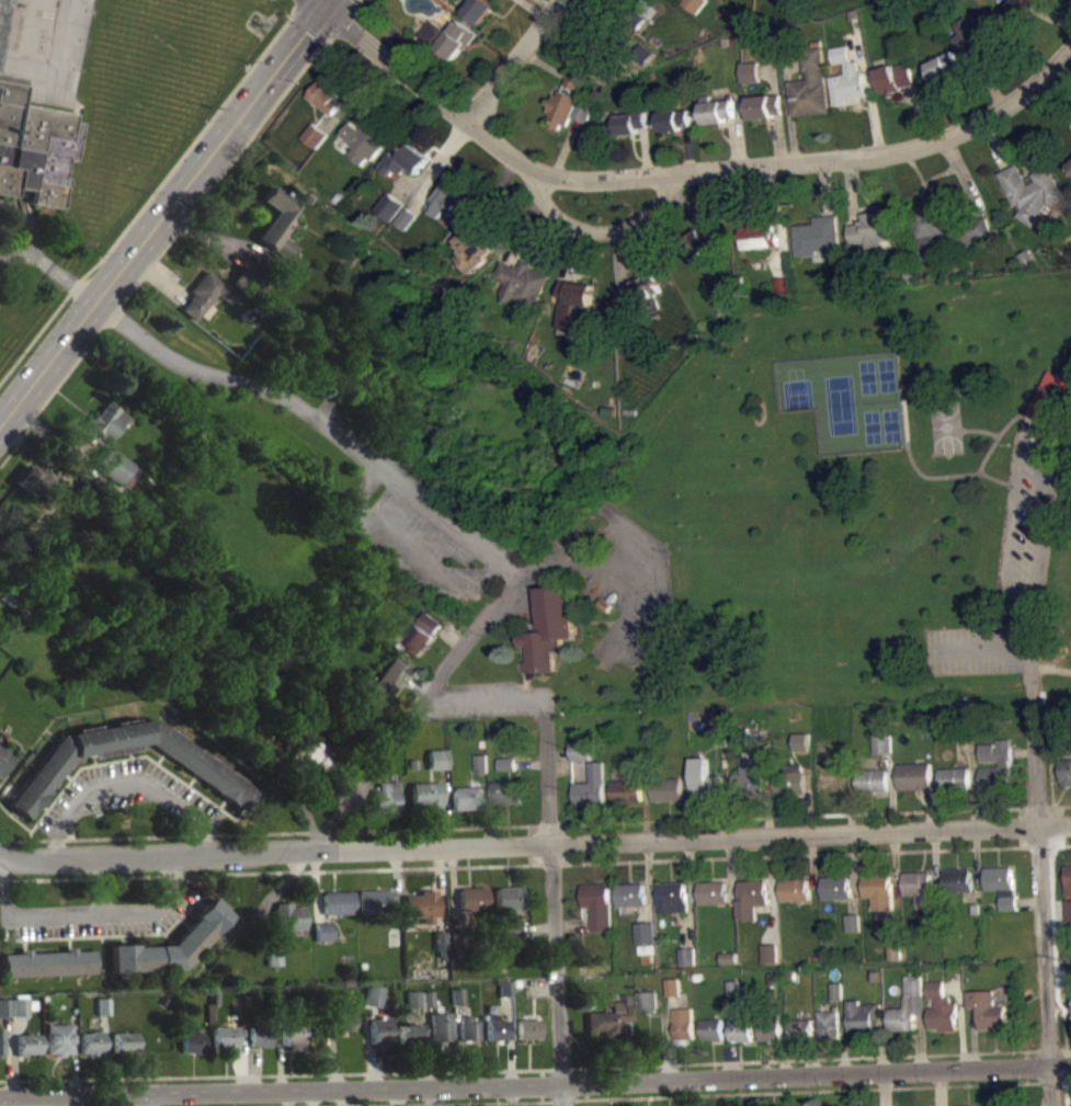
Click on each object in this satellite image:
road: (351, 2)
building: (0, 4)
road: (318, 4)
road: (324, 4)
road: (545, 4)
building: (693, 4)
building: (623, 7)
traffic signals: (321, 9)
building: (478, 9)
road: (531, 10)
building: (1015, 11)
road: (1053, 14)
road: (600, 24)
road: (310, 25)
building: (976, 35)
building: (447, 36)
road: (410, 53)
building: (642, 54)
building: (591, 56)
road: (794, 58)
road: (512, 60)
road: (544, 64)
building: (941, 66)
road: (765, 70)
road: (773, 70)
building: (749, 71)
building: (846, 78)
building: (893, 78)
road: (991, 82)
building: (810, 87)
road: (868, 90)
road: (351, 92)
road: (967, 94)
building: (323, 96)
road: (375, 96)
road: (1053, 101)
building: (569, 103)
building: (764, 105)
road: (788, 105)
building: (717, 111)
road: (921, 112)
building: (674, 119)
building: (627, 123)
building: (314, 135)
road: (778, 138)
building: (365, 139)
road: (733, 141)
road: (995, 144)
building: (33, 145)
road: (567, 147)
road: (687, 148)
road: (646, 150)
road: (431, 160)
building: (403, 161)
building: (1070, 163)
road: (440, 168)
building: (1070, 170)
road: (684, 171)
road: (962, 176)
road: (824, 187)
road: (851, 191)
road: (152, 192)
building: (1032, 192)
building: (445, 201)
road: (688, 206)
building: (389, 207)
road: (160, 215)
road: (494, 217)
building: (406, 218)
road: (778, 219)
building: (276, 221)
building: (944, 227)
building: (874, 228)
road: (175, 230)
road: (600, 231)
building: (757, 236)
building: (818, 237)
road: (529, 238)
road: (214, 240)
building: (699, 240)
building: (472, 252)
road: (573, 254)
road: (617, 260)
road: (158, 277)
building: (250, 281)
building: (520, 282)
building: (783, 284)
building: (640, 289)
building: (205, 294)
building: (576, 308)
building: (1049, 392)
park: (850, 399)
building: (105, 420)
road: (319, 422)
park: (944, 427)
road: (1003, 429)
road: (979, 430)
road: (50, 437)
road: (1019, 449)
building: (109, 464)
road: (948, 475)
building: (34, 481)
park: (864, 495)
parking lot: (425, 521)
parking lot: (1012, 569)
parking lot: (624, 578)
building: (8, 596)
building: (548, 629)
road: (1029, 631)
building: (422, 634)
road: (449, 637)
road: (989, 648)
park: (1069, 649)
road: (1050, 669)
road: (440, 675)
building: (381, 681)
road: (415, 681)
parking lot: (487, 699)
road: (483, 700)
building: (964, 716)
building: (720, 738)
building: (740, 739)
building: (801, 741)
building: (882, 743)
building: (1067, 744)
road: (1049, 745)
building: (581, 750)
road: (559, 752)
road: (1022, 752)
building: (307, 756)
building: (436, 759)
building: (2, 760)
building: (411, 763)
building: (506, 763)
road: (531, 763)
building: (481, 764)
building: (1004, 764)
building: (508, 769)
building: (831, 771)
building: (1064, 772)
building: (481, 773)
building: (213, 774)
building: (914, 775)
road: (1051, 775)
building: (750, 777)
building: (954, 778)
building: (873, 779)
building: (706, 780)
building: (790, 780)
road: (972, 780)
road: (128, 782)
building: (591, 786)
building: (666, 788)
building: (626, 790)
road: (892, 790)
building: (505, 793)
building: (425, 795)
parking lot: (127, 797)
building: (385, 797)
building: (466, 798)
road: (809, 805)
road: (850, 805)
road: (686, 806)
road: (444, 807)
road: (767, 807)
road: (930, 808)
road: (485, 809)
road: (727, 809)
road: (646, 810)
road: (534, 824)
road: (1061, 825)
road: (1018, 826)
road: (574, 843)
road: (534, 844)
road: (811, 853)
road: (976, 858)
road: (811, 860)
road: (896, 866)
road: (730, 867)
road: (935, 868)
road: (274, 871)
road: (854, 873)
building: (1068, 879)
building: (957, 880)
road: (648, 881)
building: (1002, 885)
building: (919, 886)
road: (315, 887)
building: (835, 887)
road: (1040, 887)
road: (453, 888)
road: (440, 889)
road: (772, 889)
building: (795, 890)
building: (878, 890)
building: (713, 891)
road: (690, 892)
building: (630, 894)
road: (272, 896)
building: (671, 897)
building: (472, 898)
building: (509, 898)
building: (751, 898)
road: (1029, 900)
building: (375, 901)
building: (338, 903)
road: (554, 903)
building: (597, 904)
building: (422, 905)
building: (973, 909)
road: (1055, 910)
building: (1068, 910)
parking lot: (96, 911)
road: (80, 912)
building: (932, 914)
building: (287, 916)
road: (573, 923)
building: (852, 923)
building: (510, 930)
building: (322, 932)
building: (643, 932)
building: (456, 938)
building: (441, 940)
building: (171, 945)
building: (895, 951)
building: (770, 953)
building: (687, 955)
building: (273, 956)
building: (729, 957)
building: (47, 962)
building: (729, 965)
building: (875, 976)
building: (776, 978)
building: (1070, 980)
road: (1057, 981)
building: (673, 987)
building: (503, 988)
building: (733, 988)
road: (950, 988)
building: (835, 991)
building: (373, 995)
building: (213, 996)
building: (456, 996)
building: (246, 999)
building: (411, 999)
building: (425, 999)
building: (647, 1001)
building: (277, 1002)
building: (908, 1005)
building: (22, 1006)
building: (102, 1006)
road: (1063, 1006)
building: (4, 1007)
building: (941, 1007)
building: (988, 1011)
building: (344, 1014)
building: (609, 1016)
building: (859, 1017)
road: (960, 1022)
building: (683, 1025)
building: (829, 1025)
building: (438, 1027)
building: (467, 1028)
building: (495, 1028)
building: (527, 1028)
building: (800, 1028)
building: (293, 1029)
building: (710, 1029)
building: (740, 1029)
building: (771, 1029)
building: (378, 1031)
building: (406, 1034)
building: (259, 1035)
building: (225, 1036)
road: (843, 1036)
road: (671, 1037)
building: (58, 1038)
road: (973, 1038)
road: (510, 1040)
building: (124, 1041)
road: (921, 1041)
building: (1, 1042)
building: (90, 1042)
building: (192, 1042)
building: (26, 1044)
road: (455, 1045)
road: (365, 1046)
road: (420, 1046)
road: (426, 1046)
road: (663, 1047)
road: (628, 1049)
road: (881, 1049)
road: (1059, 1049)
road: (277, 1050)
road: (106, 1053)
road: (331, 1053)
road: (9, 1056)
road: (14, 1057)
road: (1070, 1058)
road: (783, 1059)
road: (806, 1059)
road: (810, 1059)
road: (75, 1061)
road: (729, 1061)
road: (241, 1065)
road: (1026, 1067)
road: (251, 1071)
road: (281, 1073)
road: (585, 1083)
road: (535, 1084)
road: (885, 1088)
road: (939, 1088)
road: (817, 1091)
road: (149, 1099)
road: (438, 1103)
building: (995, 1104)

